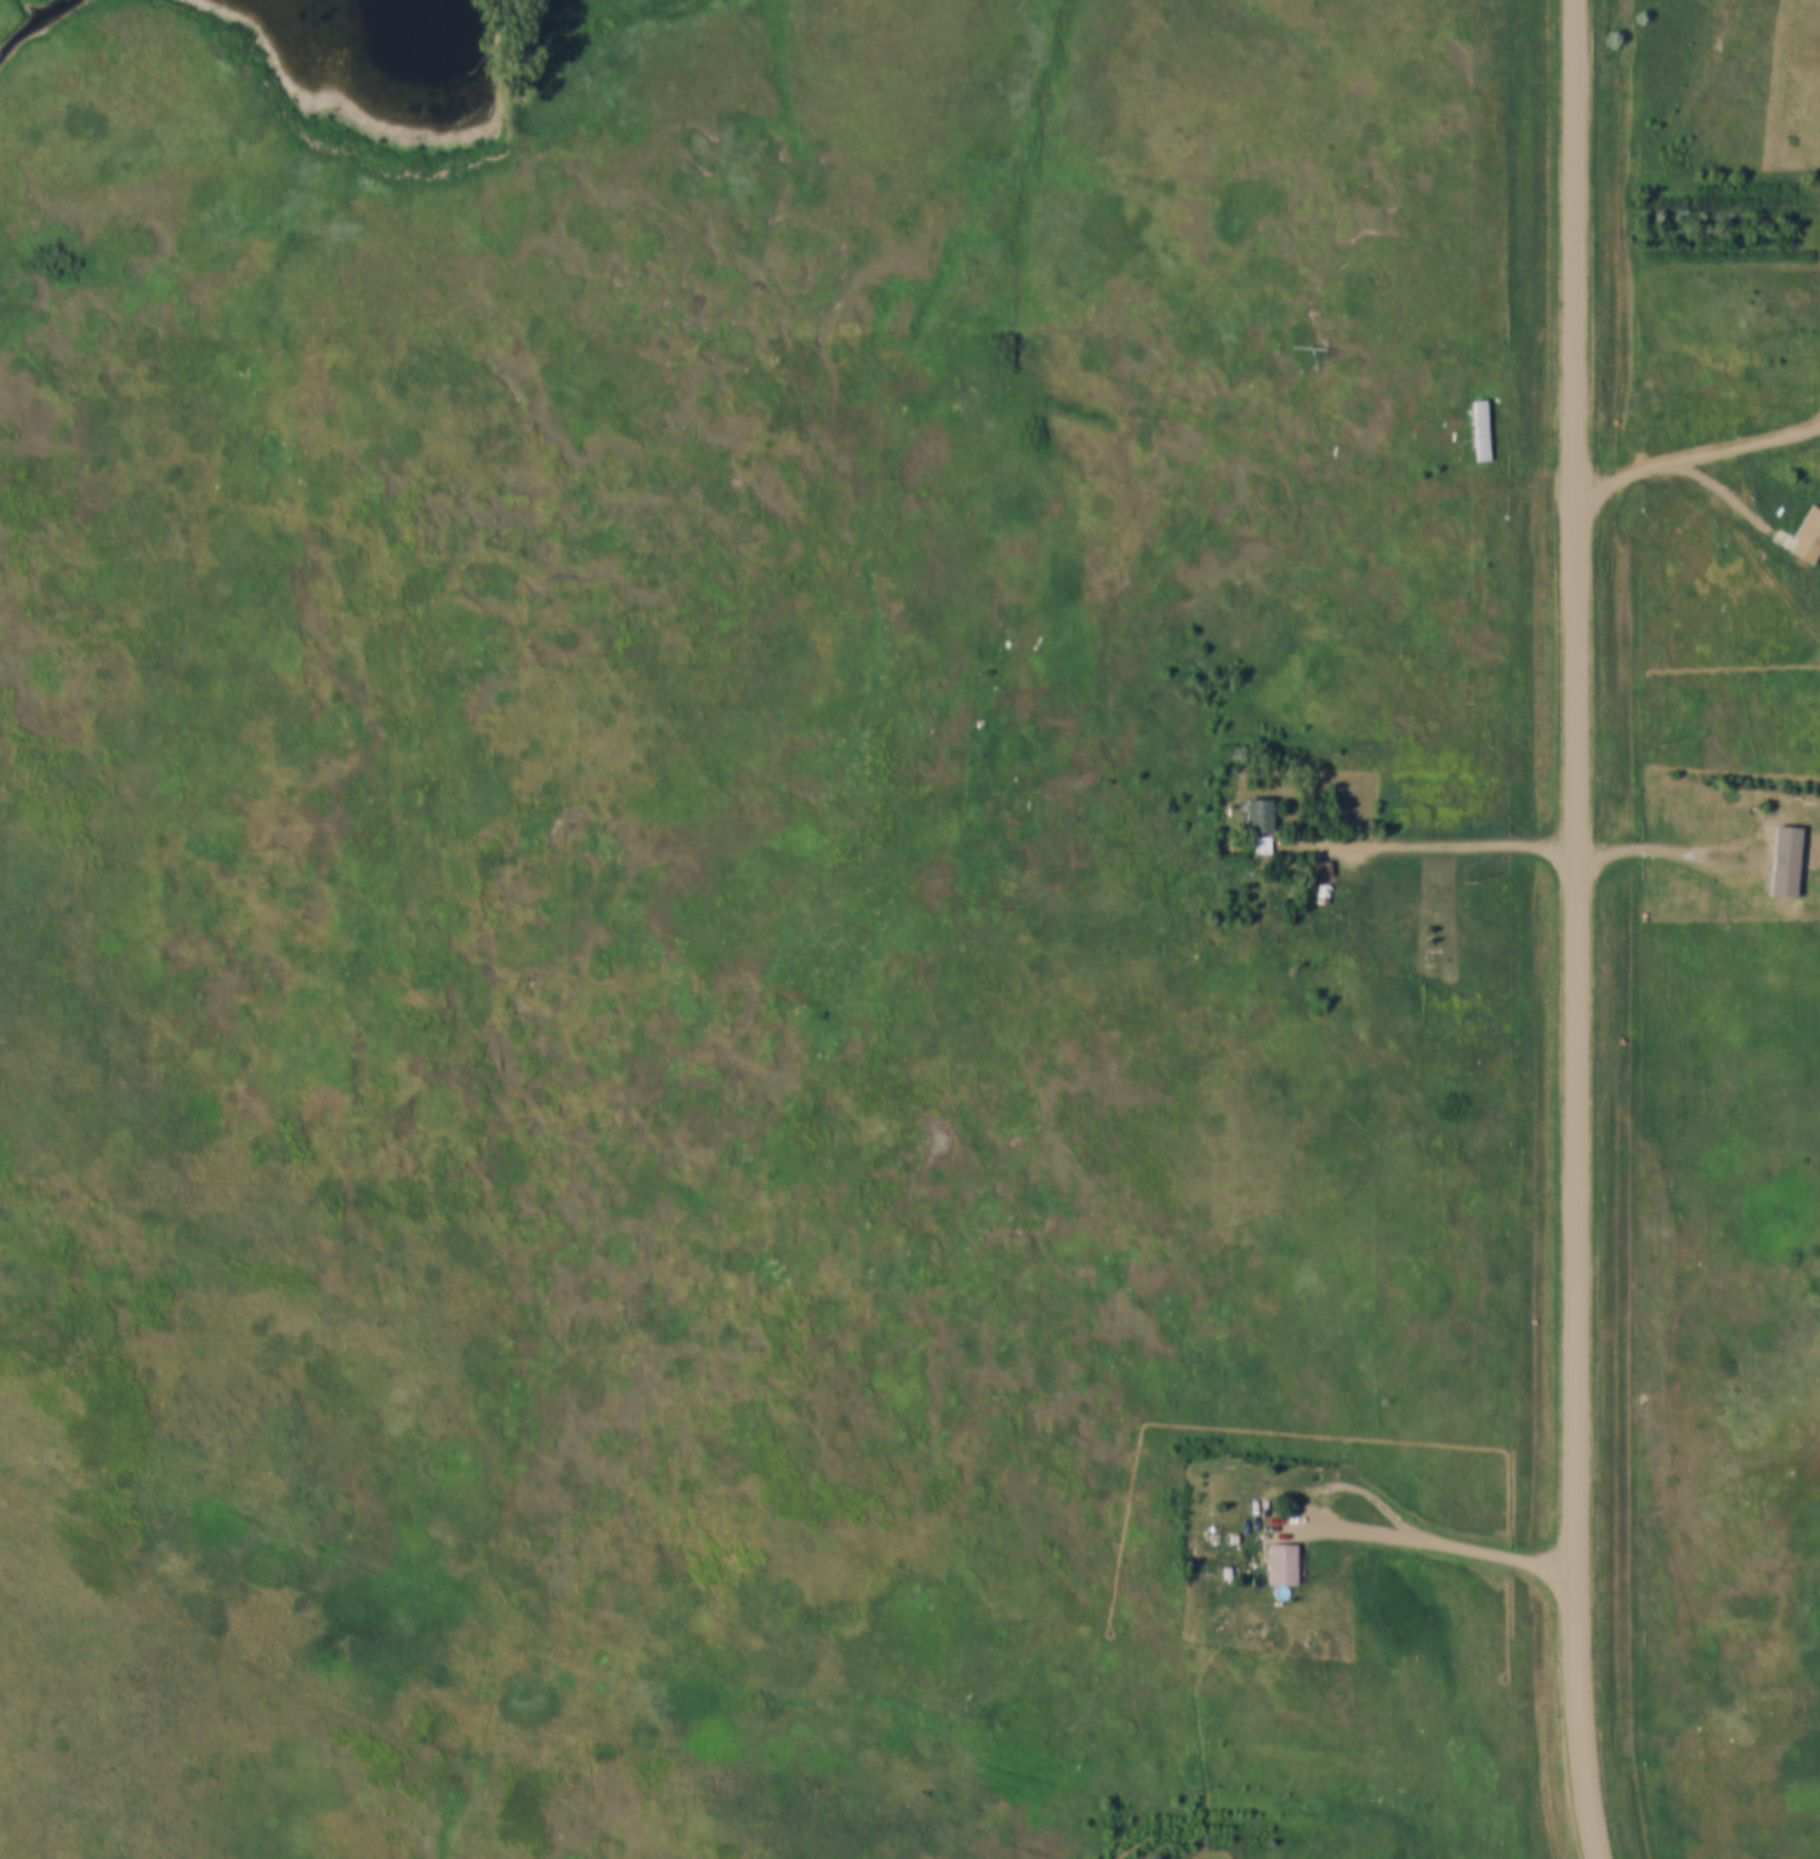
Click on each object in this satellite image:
road: (1575, 249)
building: (1475, 414)
road: (1690, 438)
building: (1802, 522)
building: (1250, 801)
building: (1258, 826)
road: (1448, 829)
building: (1791, 835)
building: (1316, 855)
road: (1699, 864)
building: (1320, 870)
road: (1579, 1179)
road: (1426, 1536)
building: (1272, 1551)
building: (1284, 1564)
road: (312, 1700)

